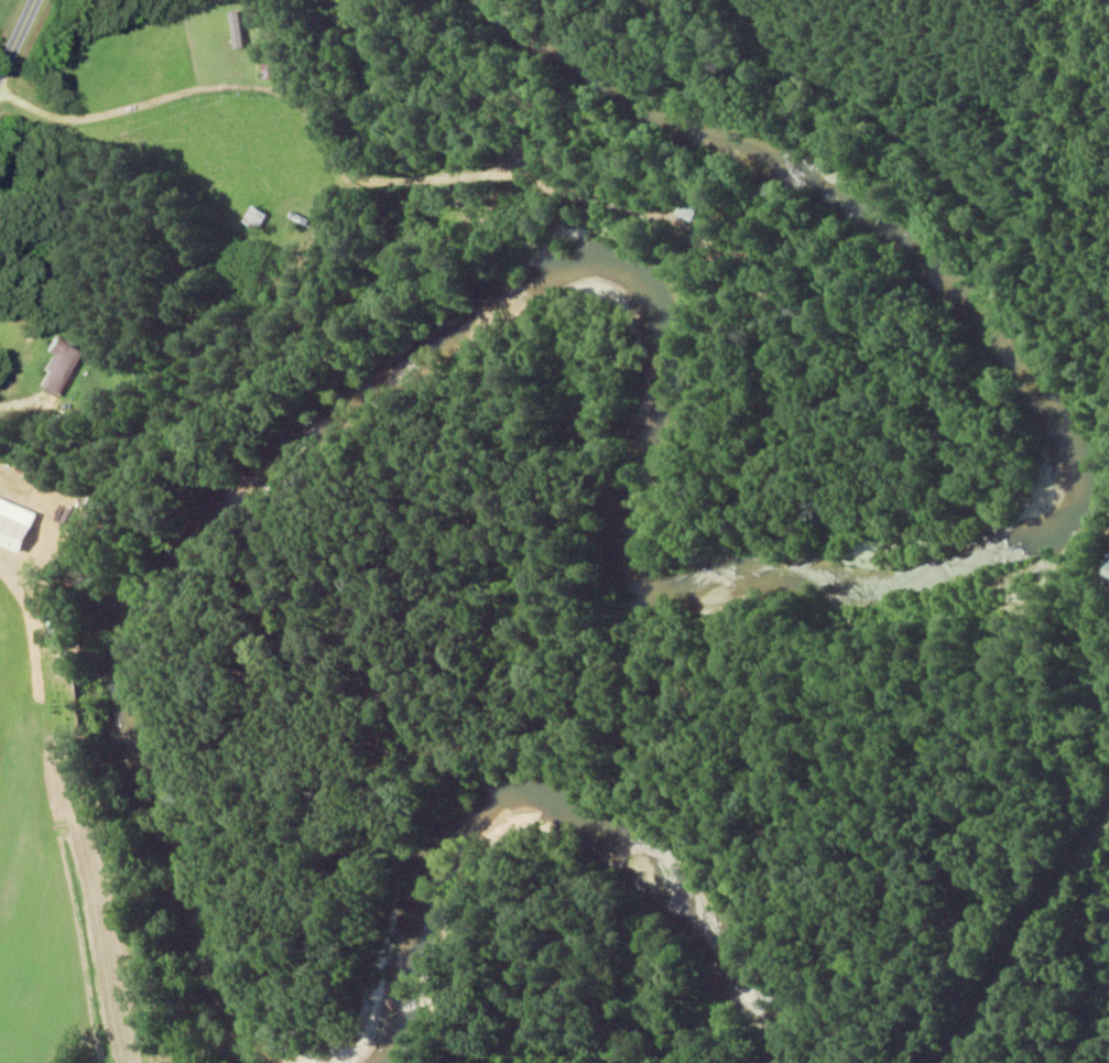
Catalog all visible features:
building: (242, 28)
road: (23, 59)
building: (64, 365)
building: (19, 524)
building: (1103, 568)

